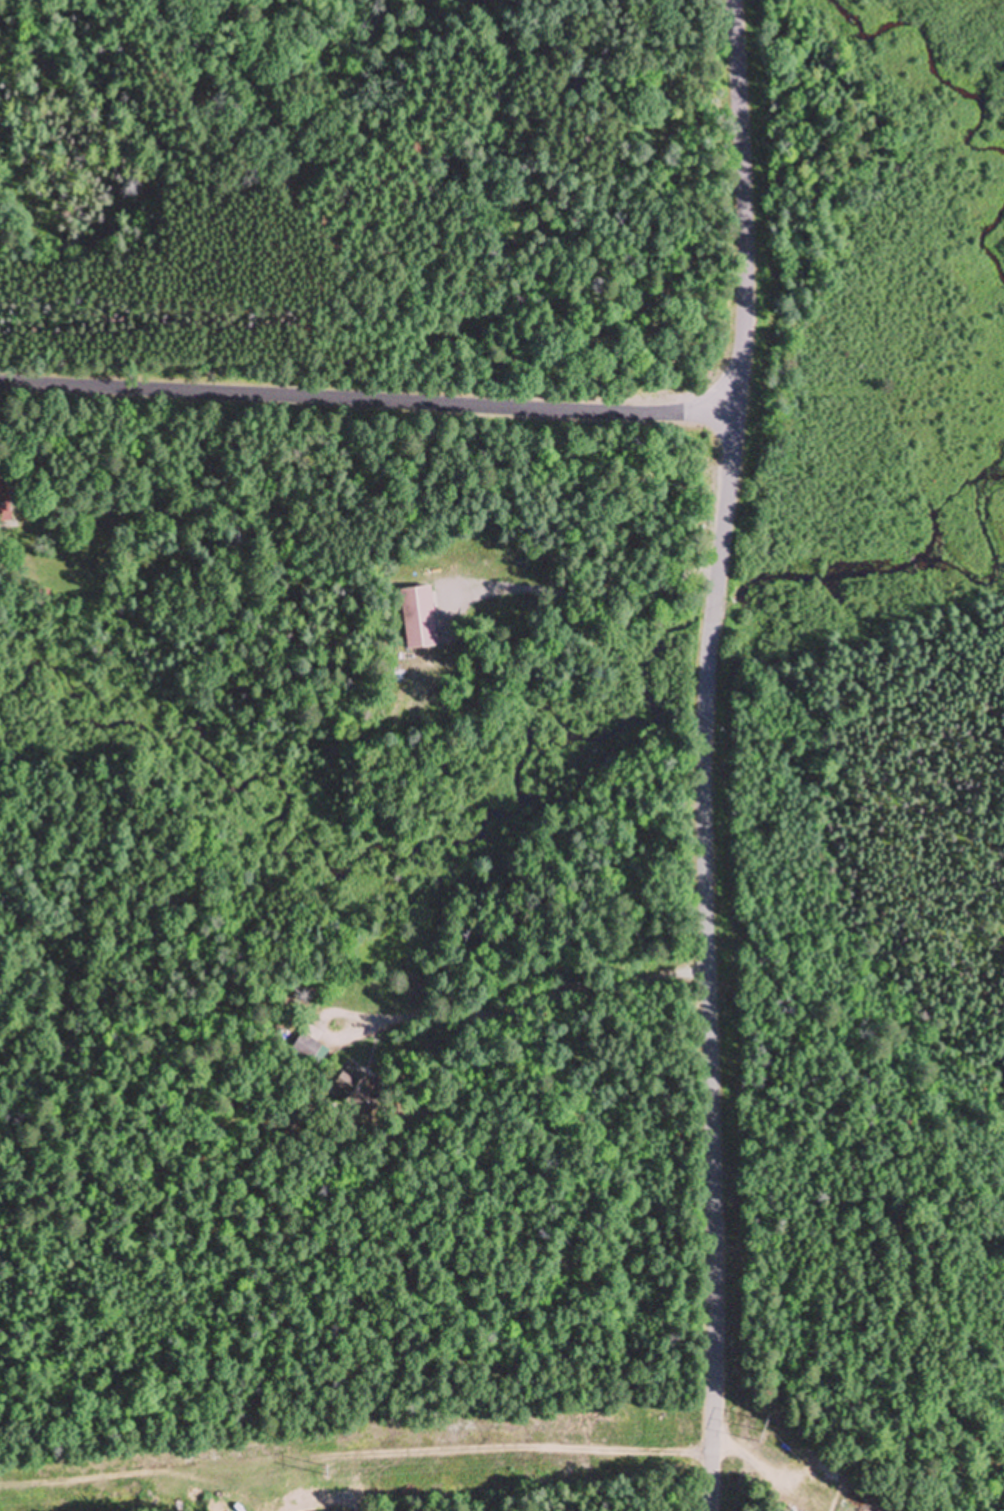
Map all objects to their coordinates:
road: (741, 208)
road: (369, 399)
building: (4, 505)
building: (419, 619)
road: (708, 962)
building: (306, 1047)
building: (357, 1091)
power tower: (762, 1434)
power tower: (325, 1471)

